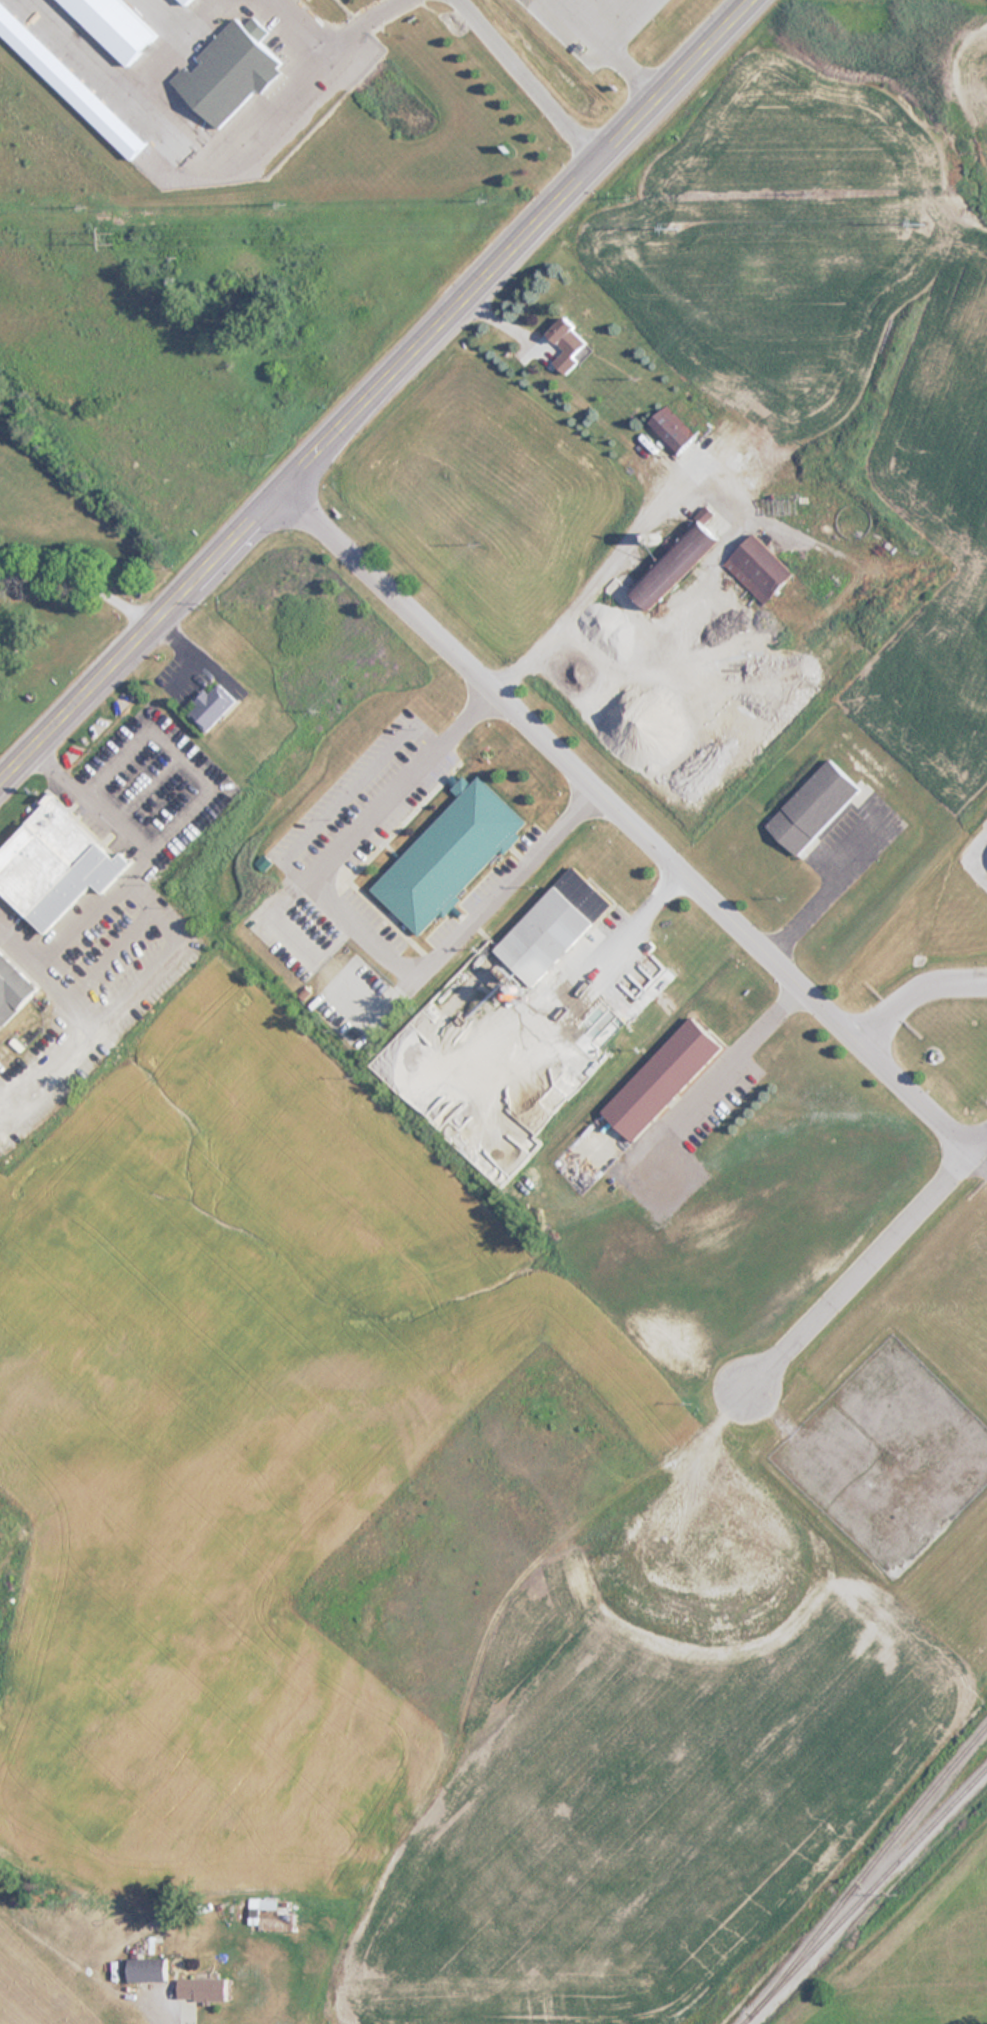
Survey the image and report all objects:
building: (184, 1)
road: (355, 19)
road: (308, 21)
road: (584, 24)
road: (630, 24)
building: (114, 25)
building: (229, 70)
road: (633, 75)
building: (69, 82)
road: (529, 82)
road: (192, 129)
power tower: (932, 218)
power tower: (689, 225)
power tower: (115, 237)
road: (521, 248)
building: (569, 345)
building: (667, 432)
building: (674, 565)
building: (758, 568)
road: (143, 636)
building: (211, 707)
building: (811, 807)
road: (626, 821)
building: (448, 855)
building: (54, 864)
building: (264, 864)
road: (817, 895)
building: (554, 928)
road: (353, 930)
building: (13, 987)
road: (911, 987)
road: (736, 1055)
building: (661, 1079)
road: (865, 1261)
road: (471, 1666)
railway: (867, 1868)
railway: (863, 1894)
building: (265, 1915)
building: (146, 1968)
building: (202, 1988)

